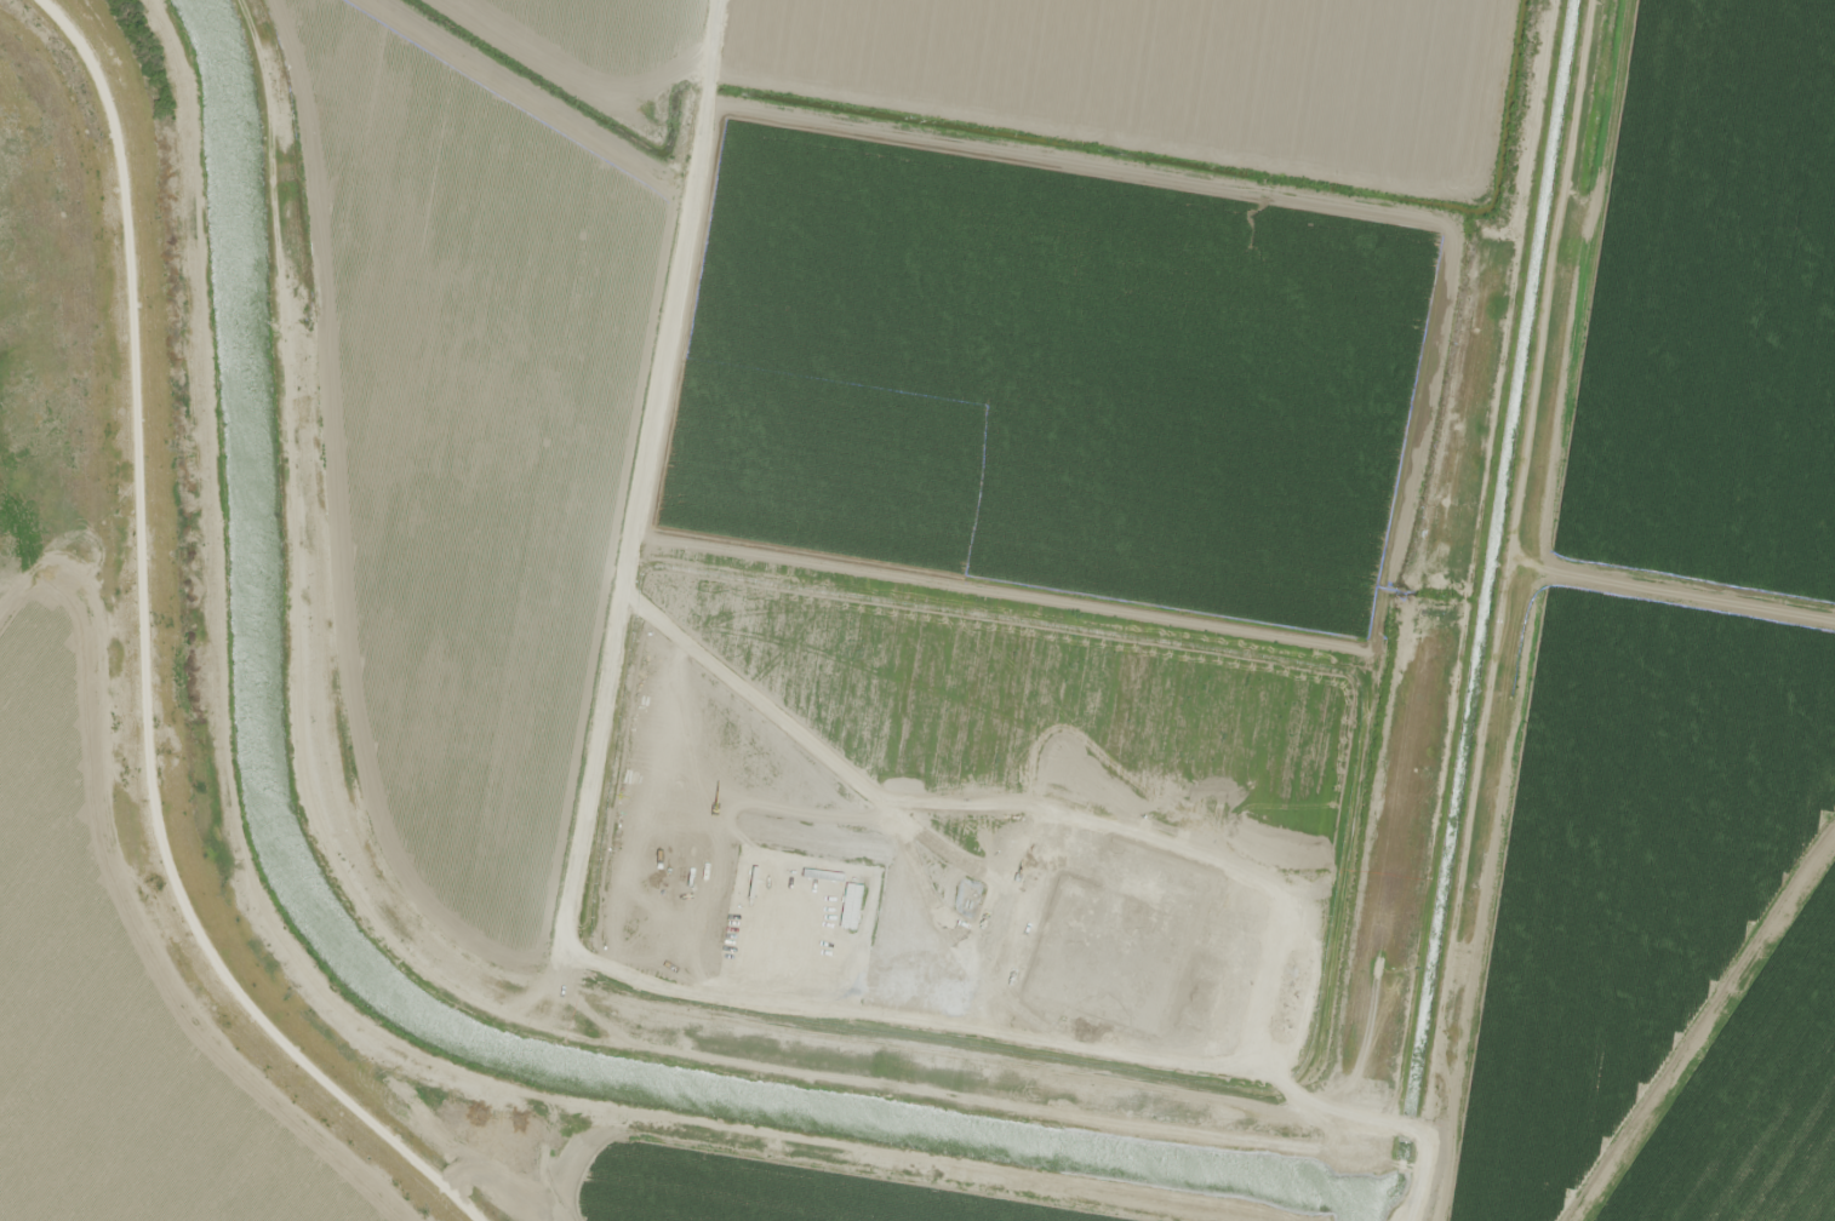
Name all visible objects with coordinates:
road: (1719, 208)
road: (642, 477)
road: (1687, 584)
road: (1532, 610)
road: (170, 659)
road: (484, 927)

